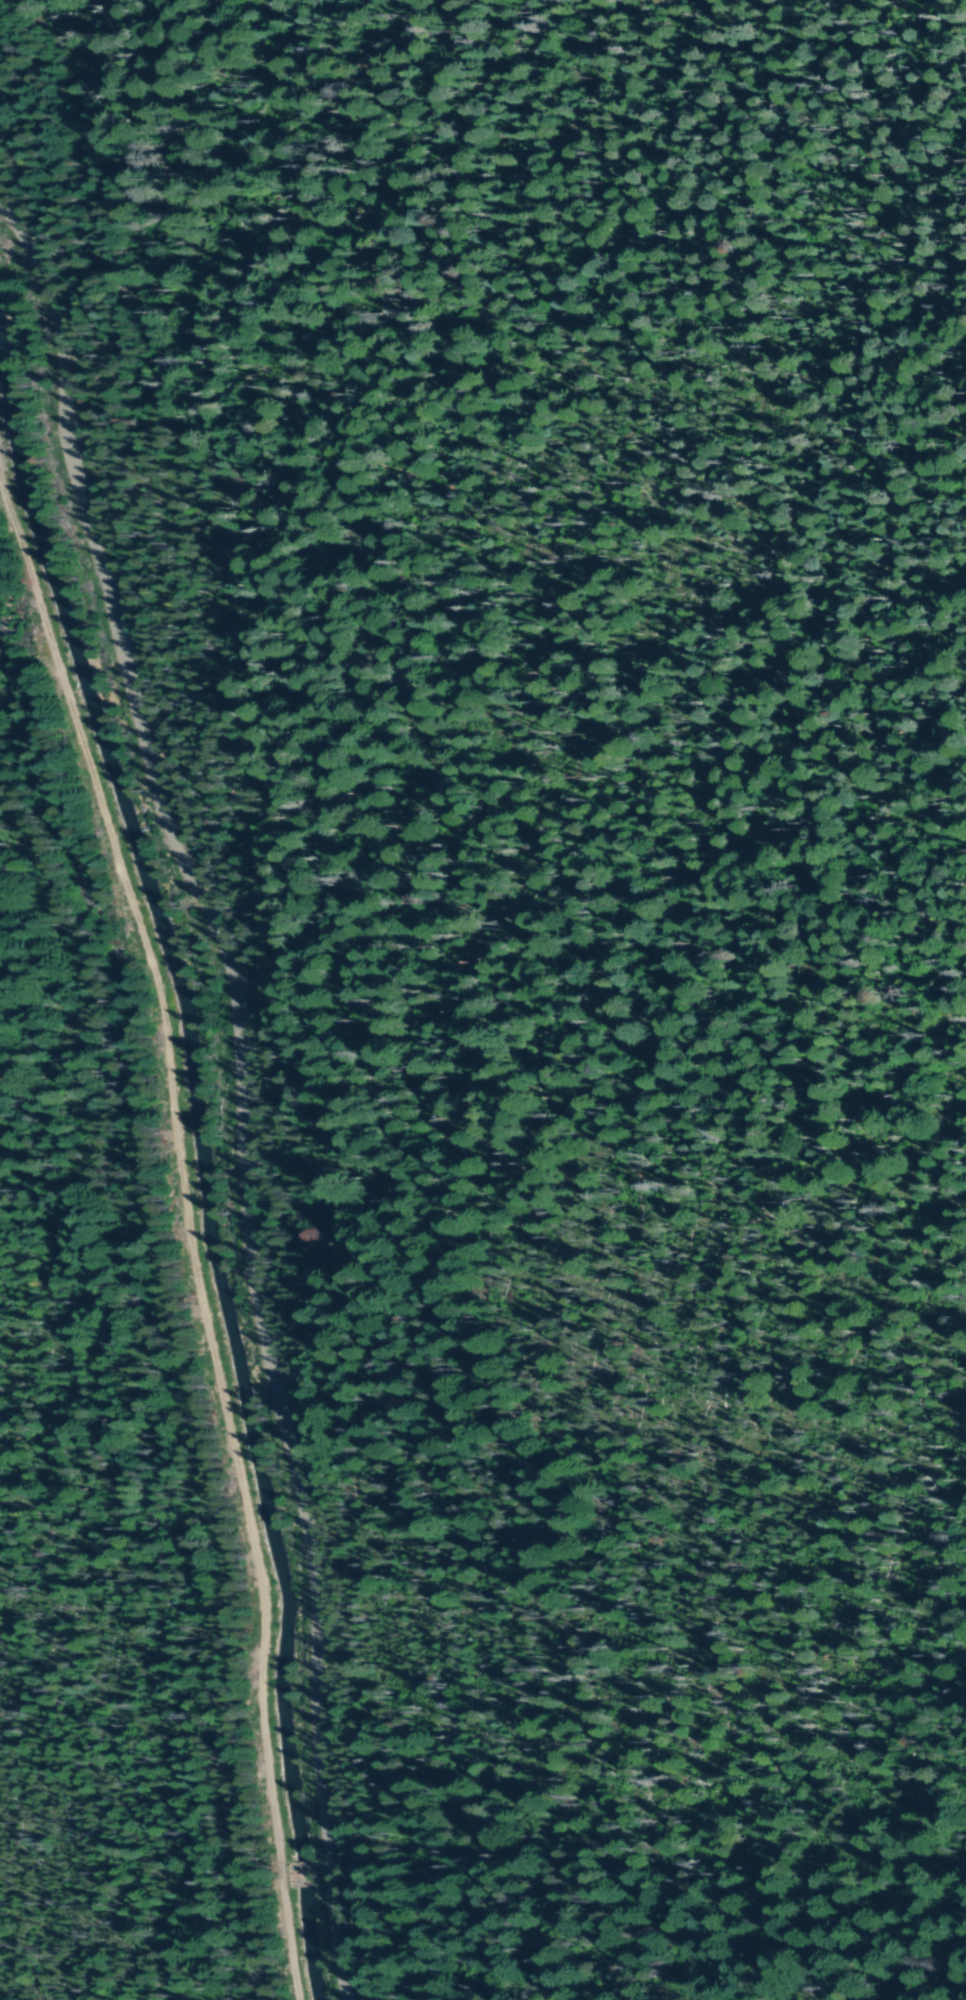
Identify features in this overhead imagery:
road: (248, 1080)
road: (192, 1228)
road: (312, 1872)

